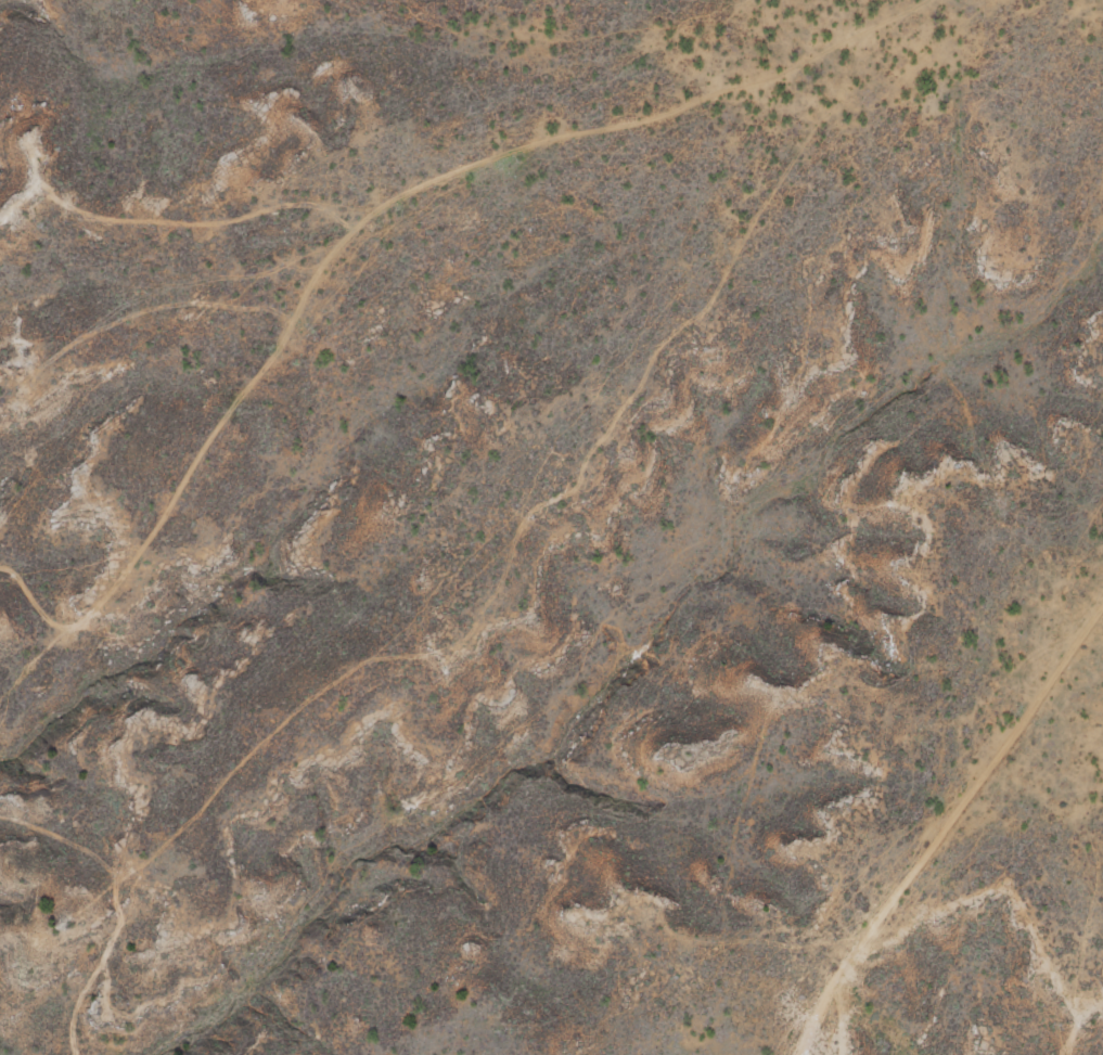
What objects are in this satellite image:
road: (944, 828)

